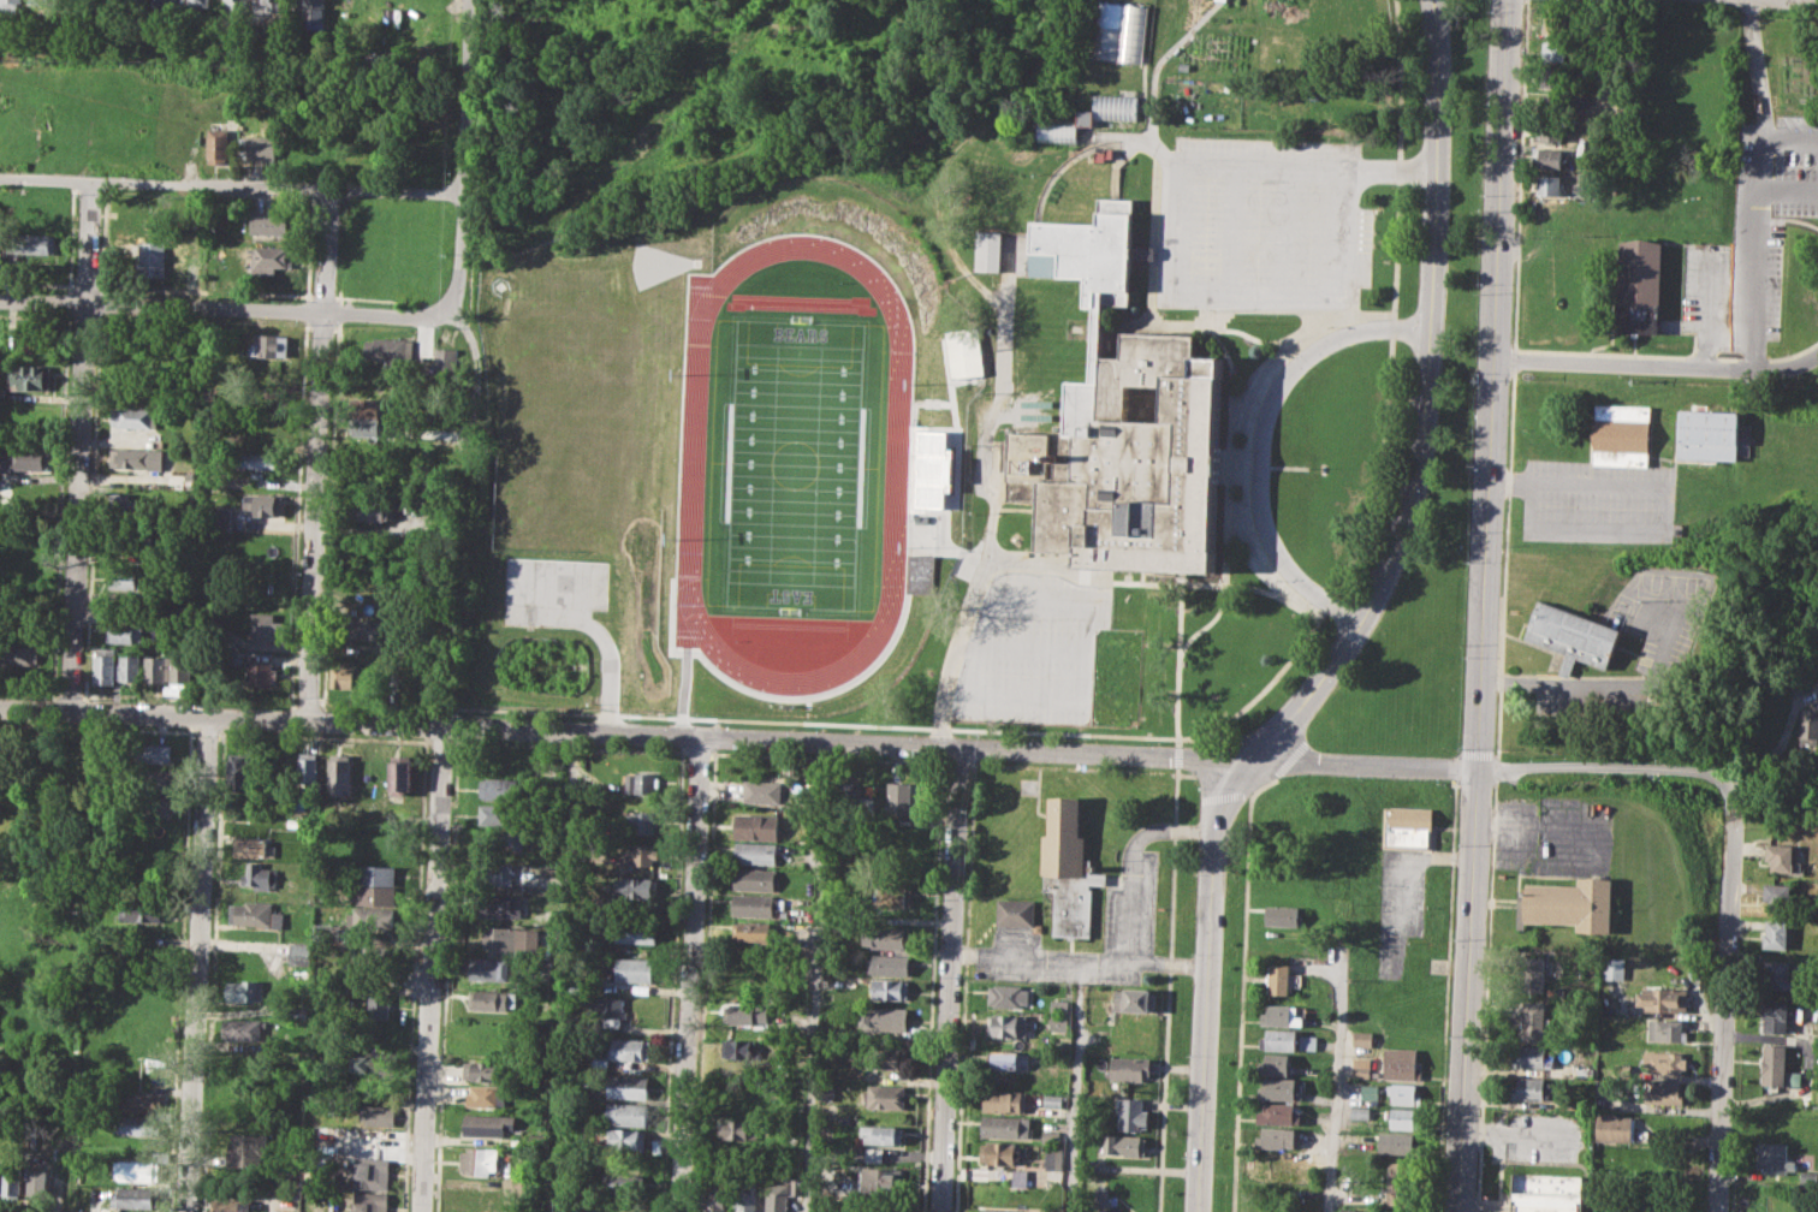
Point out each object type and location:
building: (11, 0)
building: (1222, 0)
building: (37, 1)
building: (160, 2)
building: (195, 5)
building: (232, 5)
building: (132, 6)
building: (271, 6)
building: (308, 10)
building: (1549, 24)
building: (1123, 32)
building: (1555, 52)
road: (1161, 63)
road: (1755, 76)
building: (1553, 77)
road: (463, 95)
building: (1093, 119)
building: (1545, 130)
building: (216, 145)
building: (260, 147)
road: (1771, 148)
building: (1546, 158)
road: (1265, 161)
road: (230, 185)
building: (1545, 185)
road: (1787, 191)
parking lot: (1266, 218)
road: (1800, 221)
building: (269, 222)
parking lot: (1752, 237)
building: (35, 242)
road: (459, 248)
building: (988, 249)
building: (1092, 250)
building: (1146, 252)
building: (150, 257)
building: (272, 259)
building: (1639, 272)
road: (1394, 277)
road: (1255, 292)
road: (1181, 303)
road: (161, 305)
road: (1706, 307)
road: (387, 314)
road: (1752, 316)
road: (1218, 327)
building: (271, 345)
building: (967, 349)
building: (390, 350)
building: (447, 363)
road: (1622, 366)
road: (475, 368)
building: (28, 375)
road: (1232, 378)
road: (593, 379)
road: (1511, 379)
building: (1, 392)
road: (1000, 397)
building: (375, 406)
building: (135, 416)
building: (370, 428)
building: (1618, 434)
building: (1707, 434)
road: (1261, 439)
road: (78, 446)
park: (809, 452)
track: (720, 453)
road: (317, 454)
track: (812, 454)
building: (23, 457)
building: (135, 458)
building: (1133, 459)
building: (261, 461)
building: (690, 463)
stadium: (690, 463)
road: (1275, 464)
flagpole: (1302, 467)
parking lot: (562, 468)
building: (928, 470)
stadium: (928, 470)
road: (1379, 470)
park: (1433, 474)
building: (126, 501)
building: (263, 501)
building: (373, 509)
building: (224, 518)
road: (1640, 529)
building: (124, 535)
road: (536, 537)
road: (628, 551)
building: (921, 571)
building: (689, 575)
building: (124, 580)
road: (1210, 583)
road: (975, 593)
road: (1484, 606)
building: (168, 607)
road: (640, 608)
road: (663, 612)
road: (1181, 620)
road: (1359, 623)
building: (261, 628)
building: (366, 630)
building: (123, 634)
road: (602, 634)
building: (1572, 635)
parking lot: (1030, 649)
building: (18, 653)
building: (236, 656)
building: (105, 664)
building: (130, 669)
building: (154, 669)
building: (179, 669)
building: (260, 673)
building: (343, 676)
road: (1615, 687)
road: (614, 695)
road: (819, 721)
building: (1808, 726)
road: (1210, 729)
road: (1177, 741)
road: (1780, 741)
road: (868, 743)
building: (154, 753)
road: (1177, 755)
road: (1495, 768)
building: (239, 772)
building: (307, 773)
building: (339, 773)
building: (399, 774)
building: (637, 782)
road: (1473, 783)
road: (1492, 784)
building: (497, 786)
building: (765, 789)
building: (898, 796)
building: (154, 803)
building: (494, 814)
building: (640, 822)
building: (755, 825)
building: (1406, 826)
parking lot: (1555, 834)
building: (385, 836)
building: (499, 838)
building: (254, 848)
building: (755, 852)
building: (637, 855)
building: (1780, 855)
road: (1131, 857)
building: (1068, 868)
building: (376, 873)
building: (494, 873)
building: (259, 875)
building: (753, 879)
building: (635, 886)
building: (20, 892)
building: (1778, 895)
building: (375, 896)
building: (891, 897)
parking lot: (1129, 903)
building: (756, 904)
building: (1568, 904)
building: (499, 905)
parking lot: (1398, 907)
building: (142, 910)
building: (1016, 913)
building: (255, 915)
building: (1282, 915)
building: (374, 917)
building: (19, 921)
building: (634, 931)
building: (754, 931)
building: (1775, 932)
building: (886, 938)
building: (510, 940)
building: (18, 950)
building: (301, 952)
road: (1081, 959)
building: (889, 963)
road: (195, 964)
building: (629, 968)
building: (1612, 968)
road: (433, 969)
building: (491, 969)
road: (689, 973)
building: (747, 973)
building: (1534, 973)
building: (1777, 975)
road: (816, 976)
building: (1278, 978)
road: (950, 980)
building: (890, 988)
road: (1168, 988)
building: (245, 991)
building: (1008, 996)
road: (1444, 996)
road: (1485, 998)
building: (1662, 998)
road: (1724, 998)
building: (494, 999)
building: (1135, 999)
building: (379, 1002)
building: (1059, 1005)
building: (606, 1009)
building: (747, 1012)
building: (1776, 1015)
building: (1279, 1016)
building: (884, 1018)
building: (1533, 1021)
building: (1058, 1022)
building: (1009, 1024)
building: (243, 1029)
building: (1664, 1030)
building: (1361, 1038)
building: (1279, 1040)
building: (1308, 1042)
building: (629, 1050)
building: (744, 1050)
building: (1533, 1056)
building: (885, 1058)
building: (1010, 1059)
building: (1665, 1060)
building: (367, 1062)
building: (1276, 1064)
building: (1400, 1064)
building: (1772, 1064)
building: (1361, 1067)
building: (1129, 1068)
building: (486, 1070)
road: (1337, 1074)
building: (630, 1085)
road: (1075, 1086)
building: (744, 1088)
building: (830, 1089)
building: (1276, 1089)
building: (1532, 1089)
building: (1403, 1093)
building: (1664, 1093)
building: (487, 1095)
building: (884, 1095)
building: (1053, 1100)
building: (1008, 1101)
building: (138, 1103)
building: (1360, 1111)
building: (629, 1112)
building: (1133, 1113)
building: (1279, 1113)
building: (379, 1115)
building: (1401, 1118)
building: (488, 1123)
building: (136, 1124)
building: (1005, 1127)
building: (1615, 1128)
building: (742, 1129)
building: (1052, 1131)
road: (1517, 1133)
building: (883, 1134)
parking lot: (1538, 1135)
building: (537, 1137)
building: (630, 1137)
building: (1277, 1137)
building: (1395, 1142)
building: (1125, 1145)
building: (243, 1149)
building: (1000, 1152)
building: (874, 1154)
building: (1053, 1155)
building: (1775, 1158)
building: (479, 1160)
building: (1091, 1165)
building: (1276, 1168)
building: (135, 1170)
building: (373, 1171)
building: (1018, 1177)
building: (11, 1180)
building: (37, 1180)
building: (881, 1180)
building: (1810, 1180)
building: (625, 1182)
building: (1397, 1184)
building: (1545, 1192)
building: (782, 1193)
flagpole: (1490, 1194)
building: (133, 1196)
building: (744, 1196)
building: (1100, 1196)
building: (470, 1198)
building: (713, 1198)
building: (370, 1201)
building: (227, 1205)
building: (880, 1208)
building: (1010, 1210)
building: (1390, 1211)

